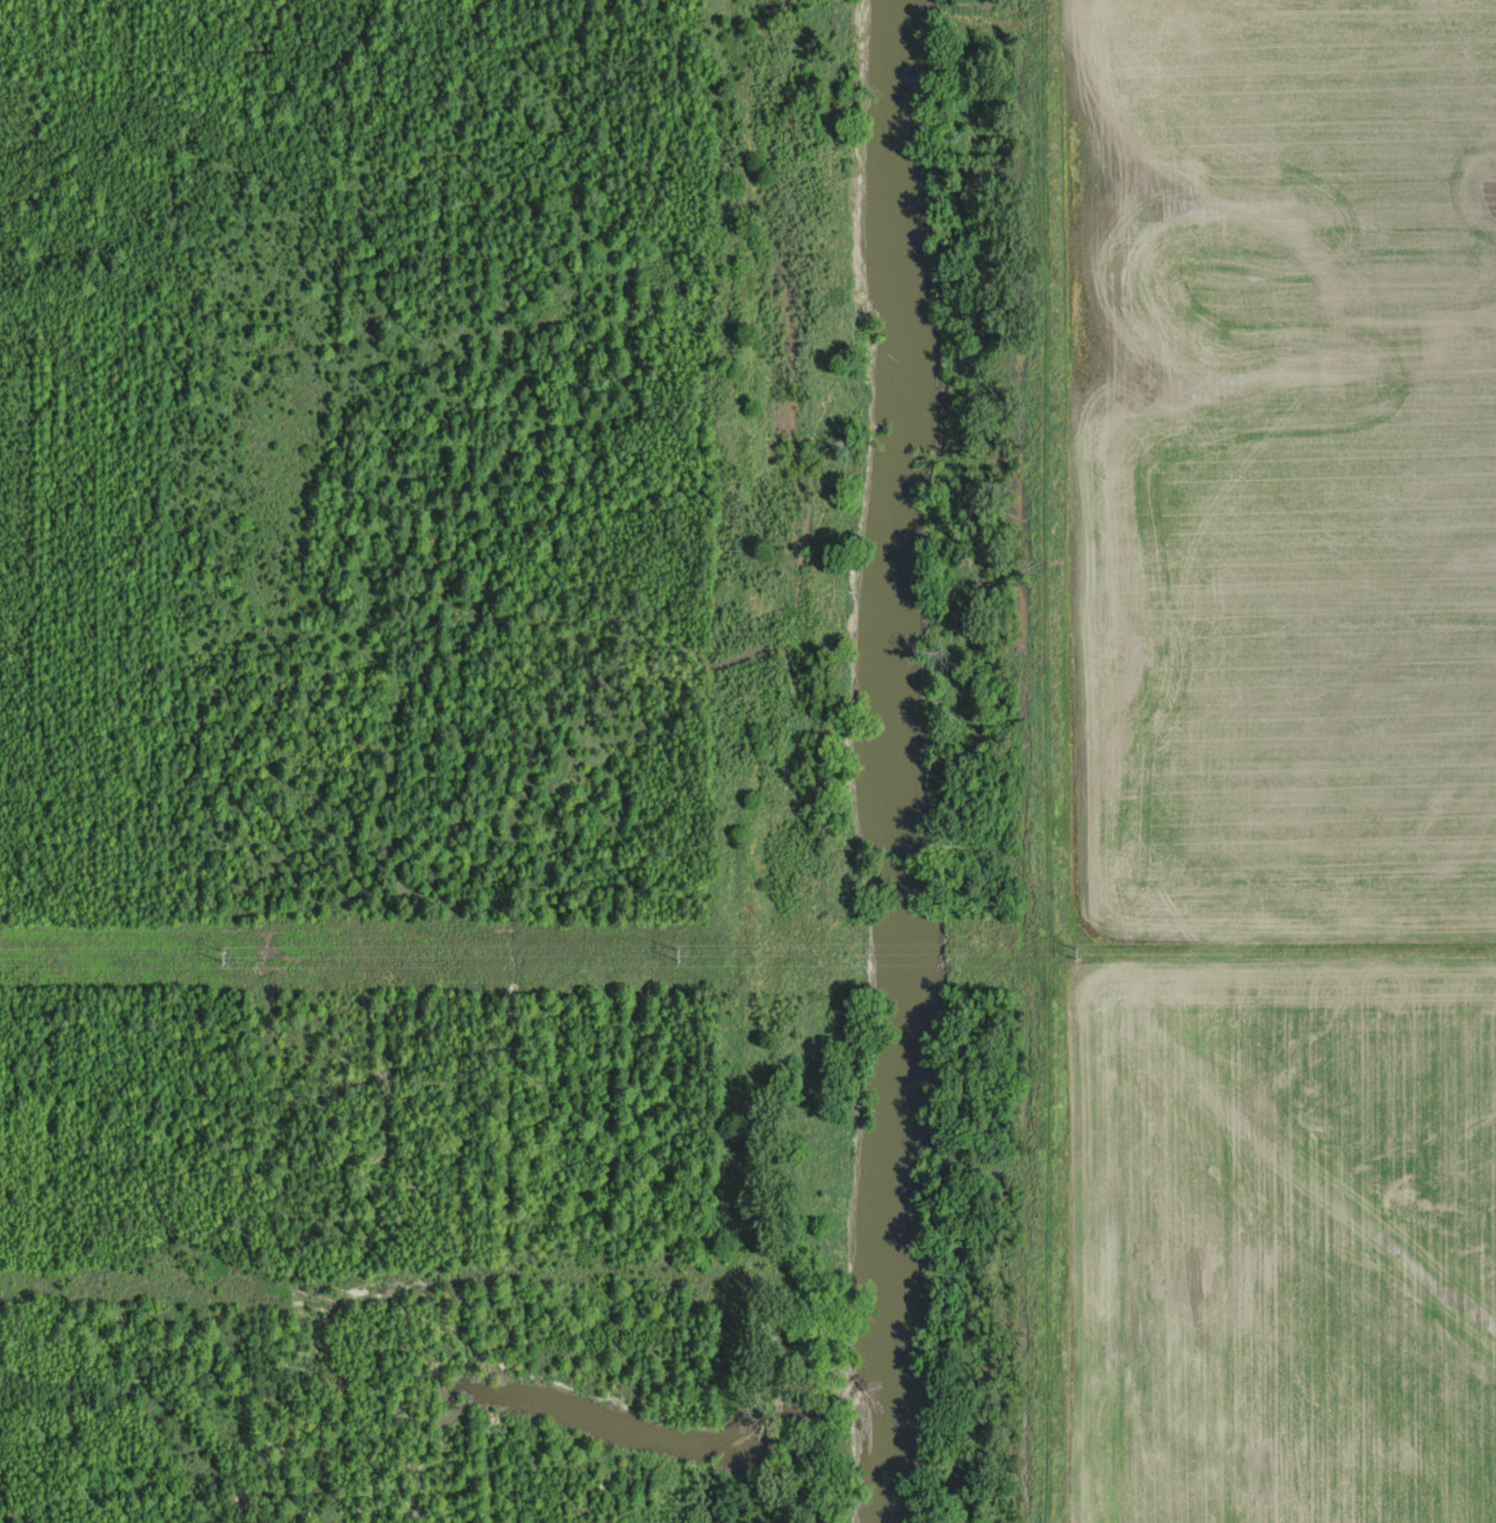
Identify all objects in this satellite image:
river: (894, 760)

